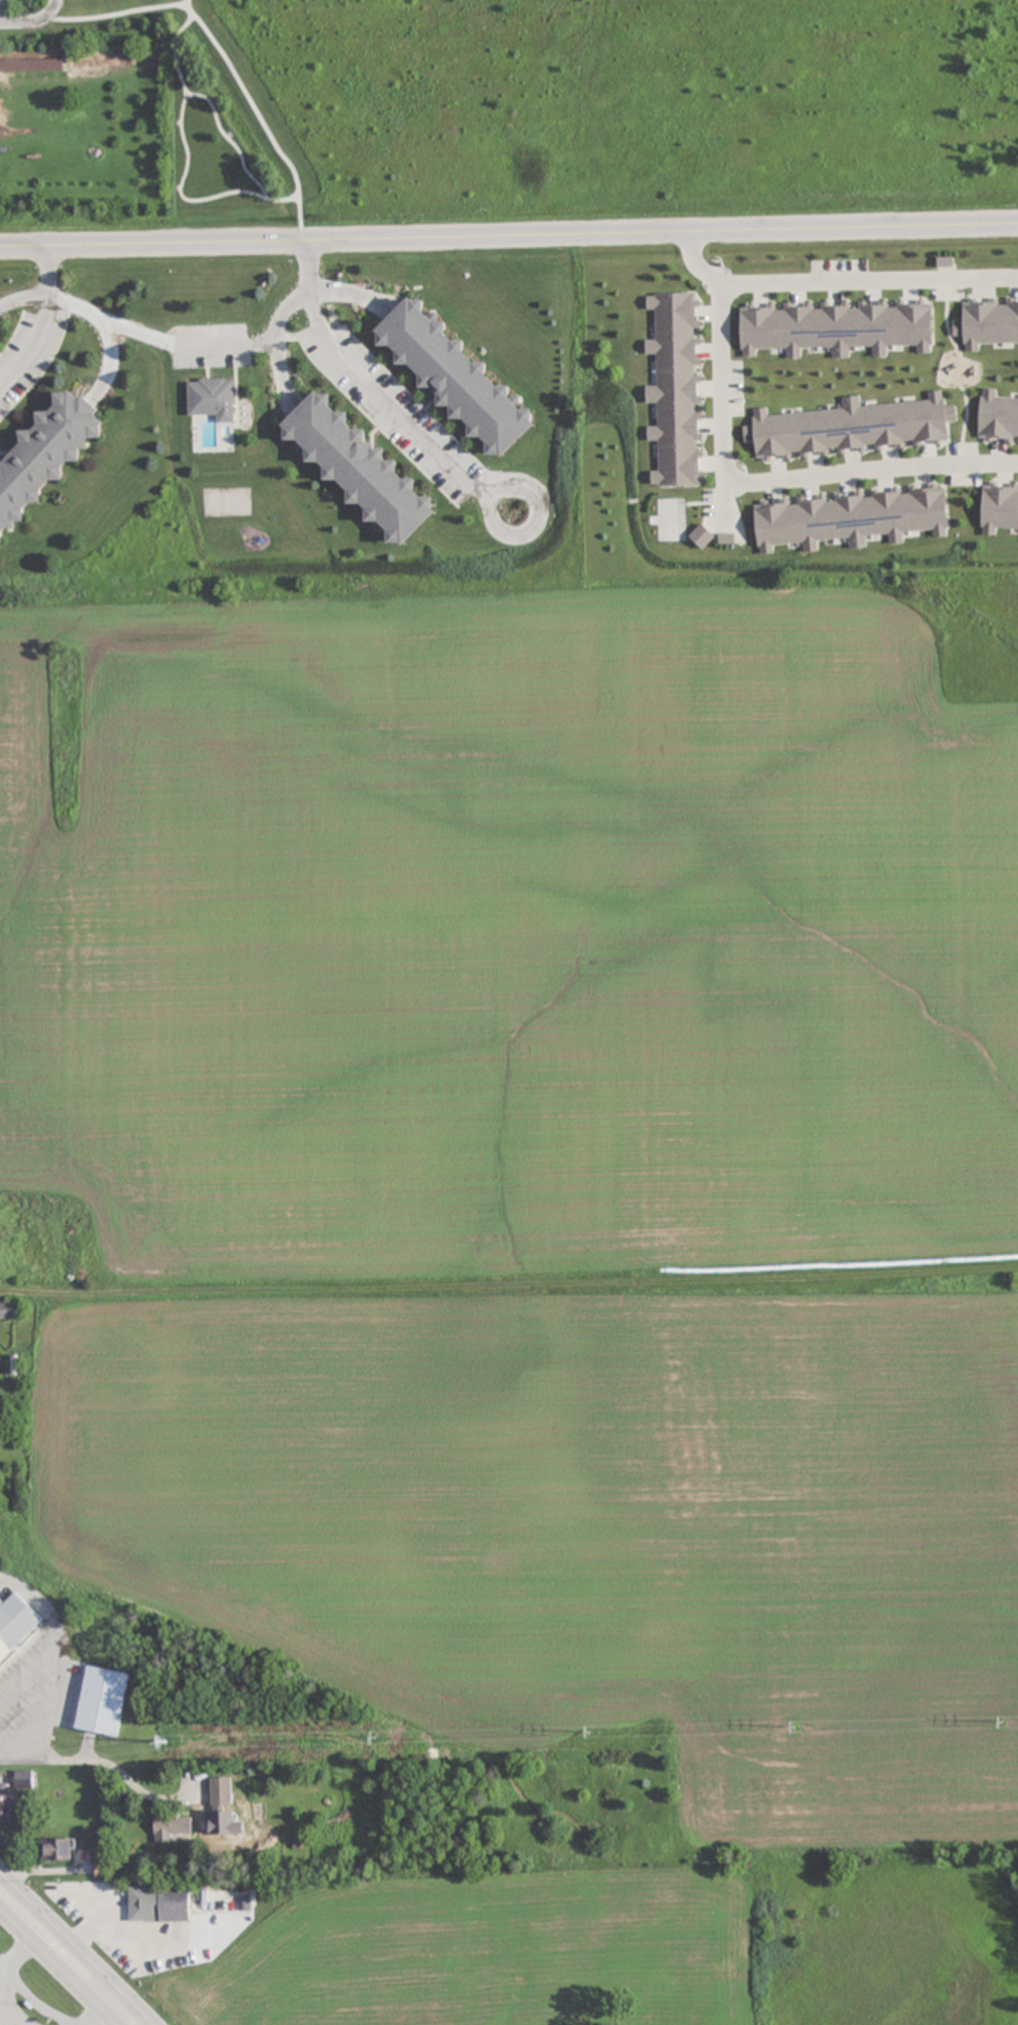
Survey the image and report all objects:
road: (119, 14)
road: (173, 51)
building: (13, 66)
road: (258, 115)
road: (182, 136)
road: (509, 236)
building: (945, 262)
road: (869, 282)
road: (40, 322)
building: (987, 322)
building: (836, 327)
road: (187, 345)
parking lot: (211, 346)
road: (722, 370)
building: (454, 377)
road: (366, 379)
building: (675, 387)
building: (211, 398)
building: (998, 417)
building: (850, 427)
building: (45, 455)
building: (358, 468)
road: (871, 470)
building: (999, 507)
building: (851, 518)
road: (536, 524)
building: (701, 536)
crop: (540, 1216)
building: (10, 1310)
building: (16, 1624)
building: (93, 1646)
road: (53, 1668)
road: (121, 1771)
building: (221, 1791)
building: (17, 1795)
building: (171, 1827)
building: (58, 1849)
building: (160, 1905)
road: (76, 1948)
road: (58, 1967)

